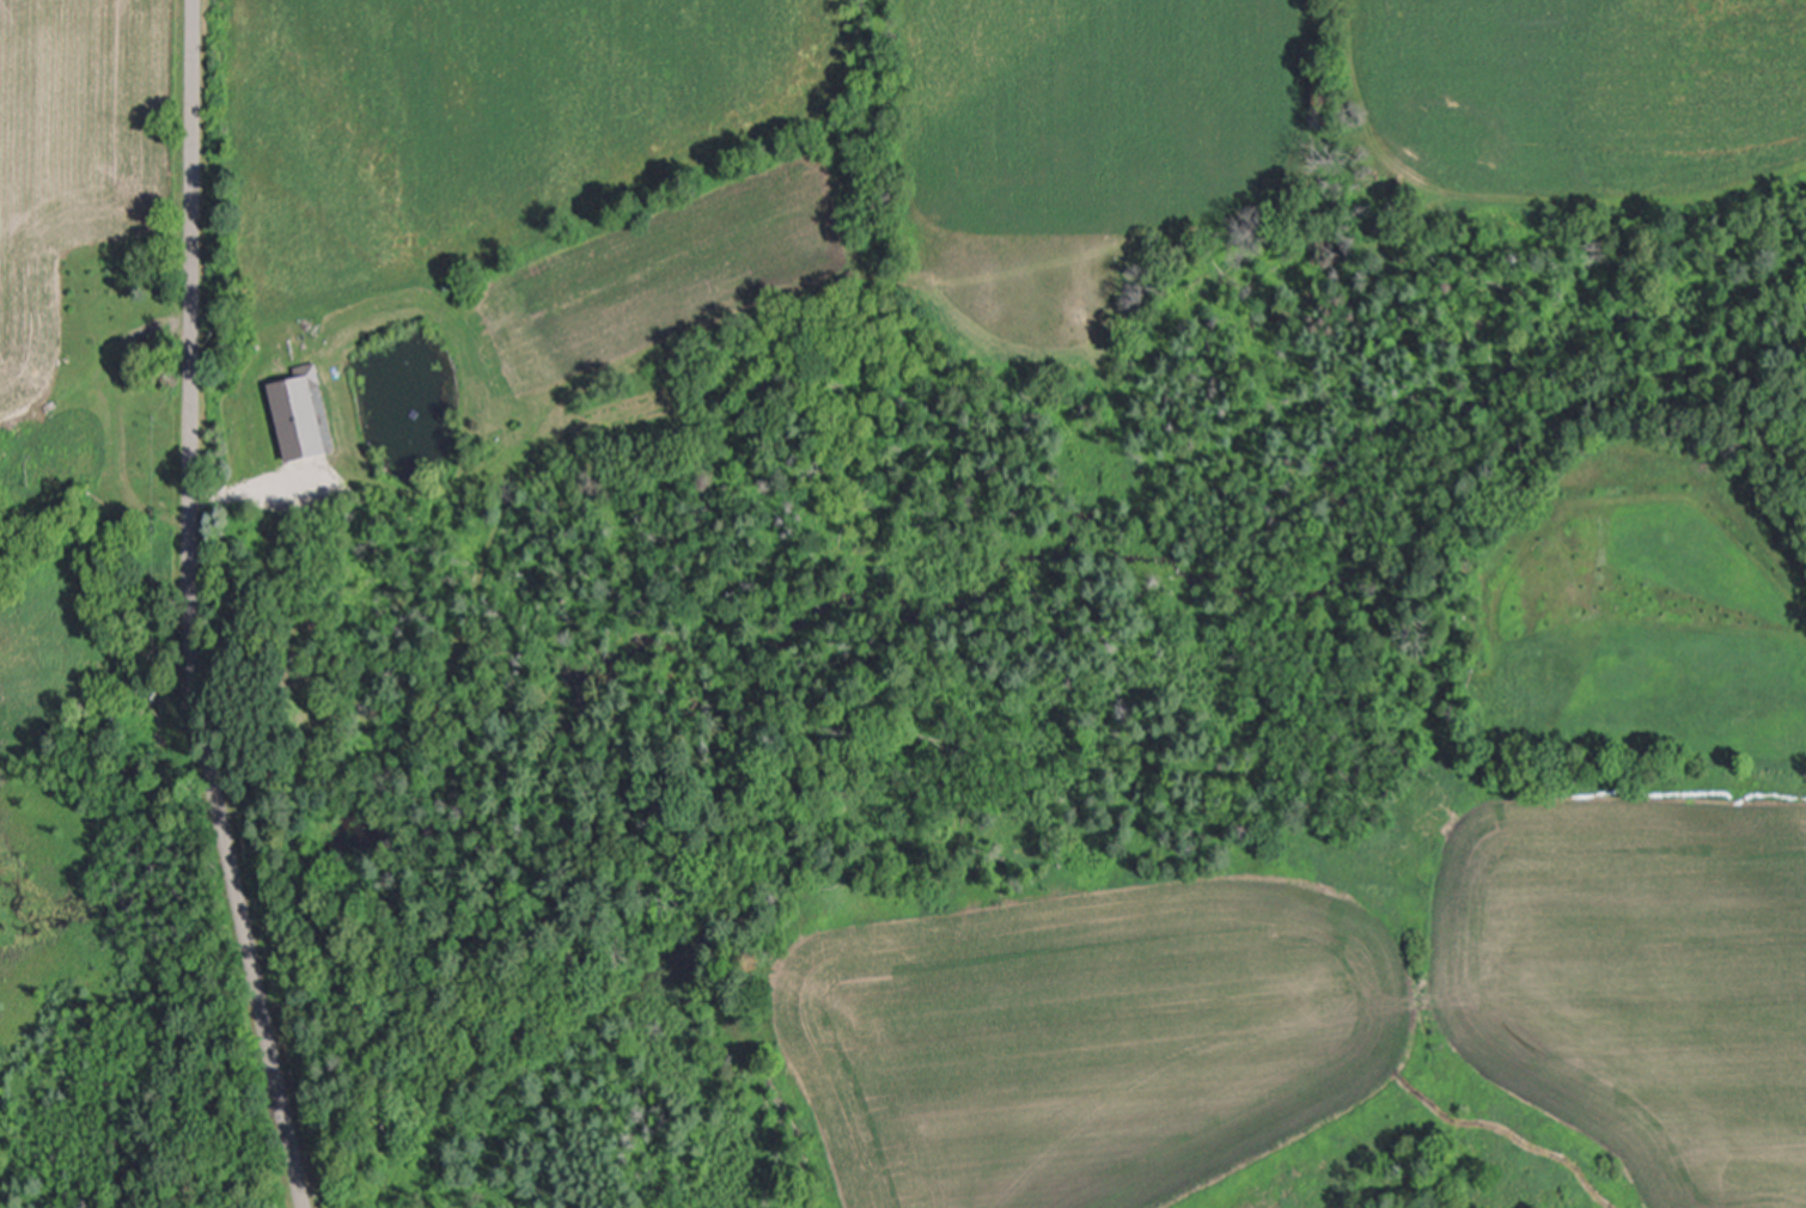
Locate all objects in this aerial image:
building: (108, 312)
road: (188, 610)

